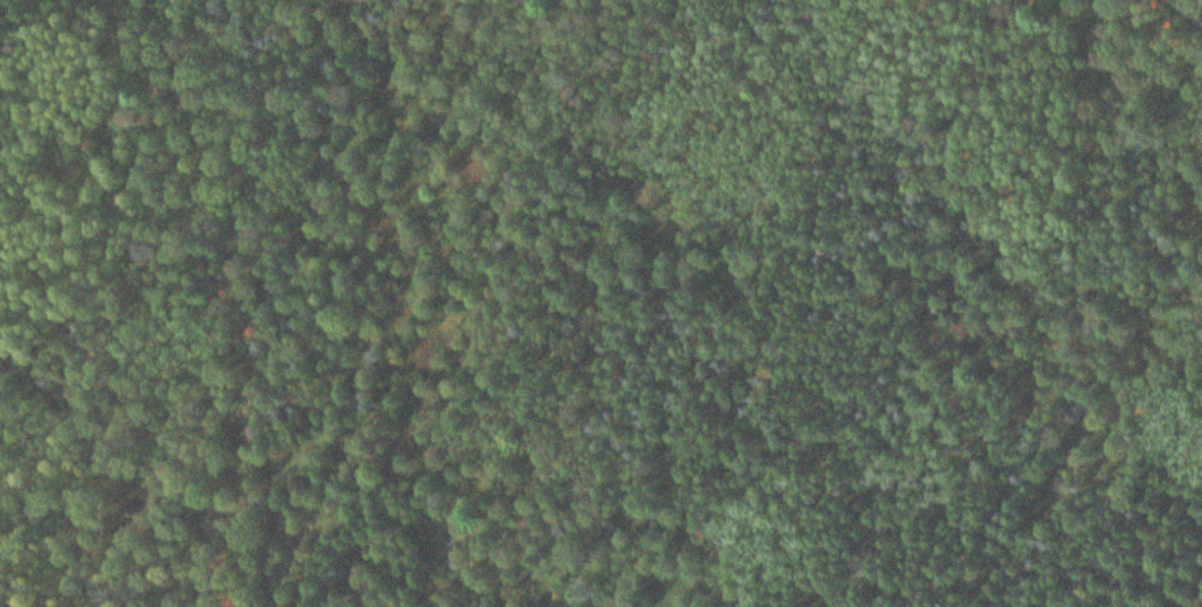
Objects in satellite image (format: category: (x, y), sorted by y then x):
road: (1191, 6)

